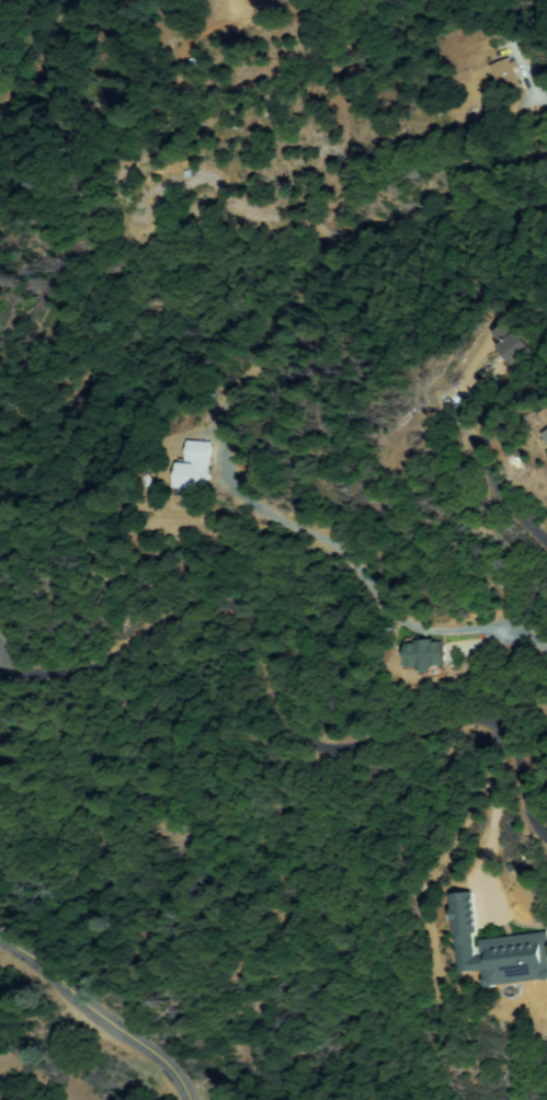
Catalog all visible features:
building: (505, 78)
building: (546, 94)
building: (517, 344)
building: (545, 434)
road: (490, 452)
building: (195, 471)
building: (425, 654)
road: (276, 709)
building: (504, 952)
road: (99, 1015)

